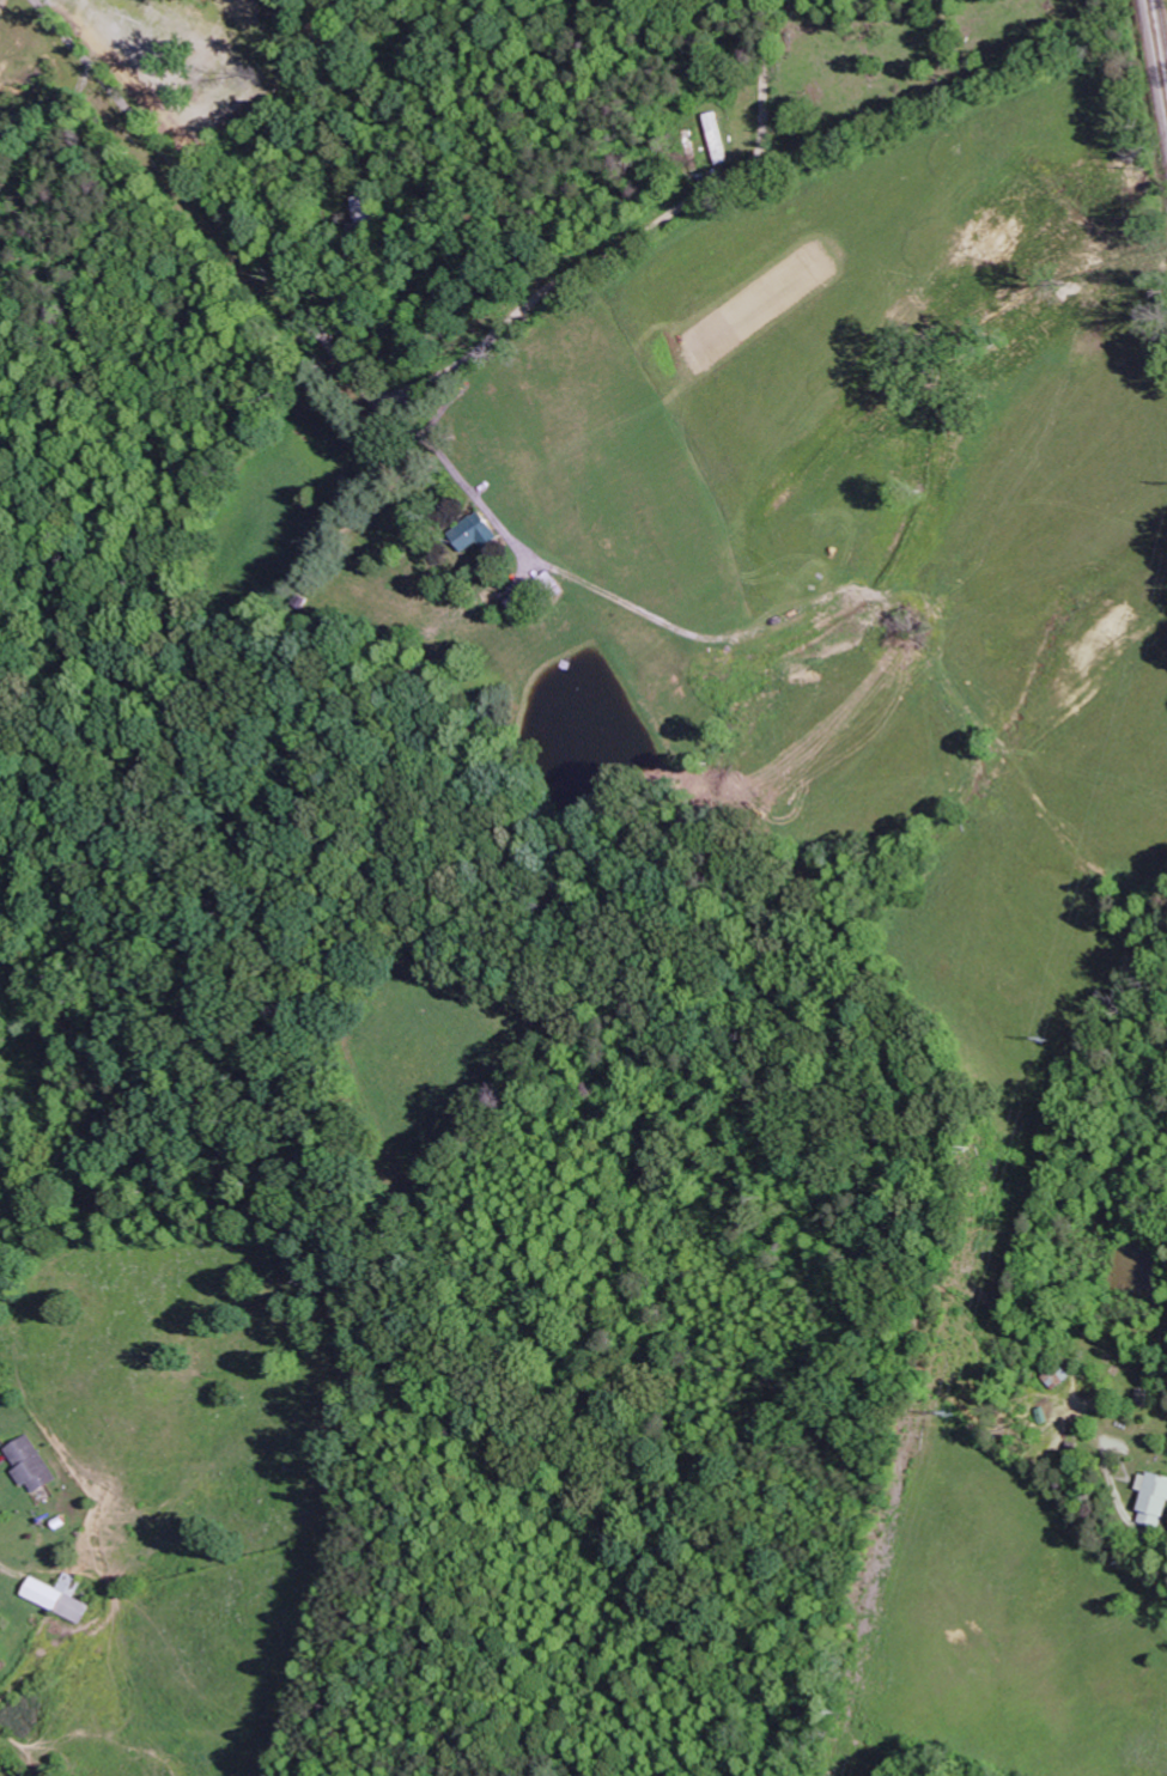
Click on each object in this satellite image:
railway: (1165, 8)
railway: (1157, 49)
building: (365, 208)
road: (211, 209)
building: (478, 533)
road: (7, 747)
building: (32, 1465)
building: (1155, 1498)
building: (60, 1596)

